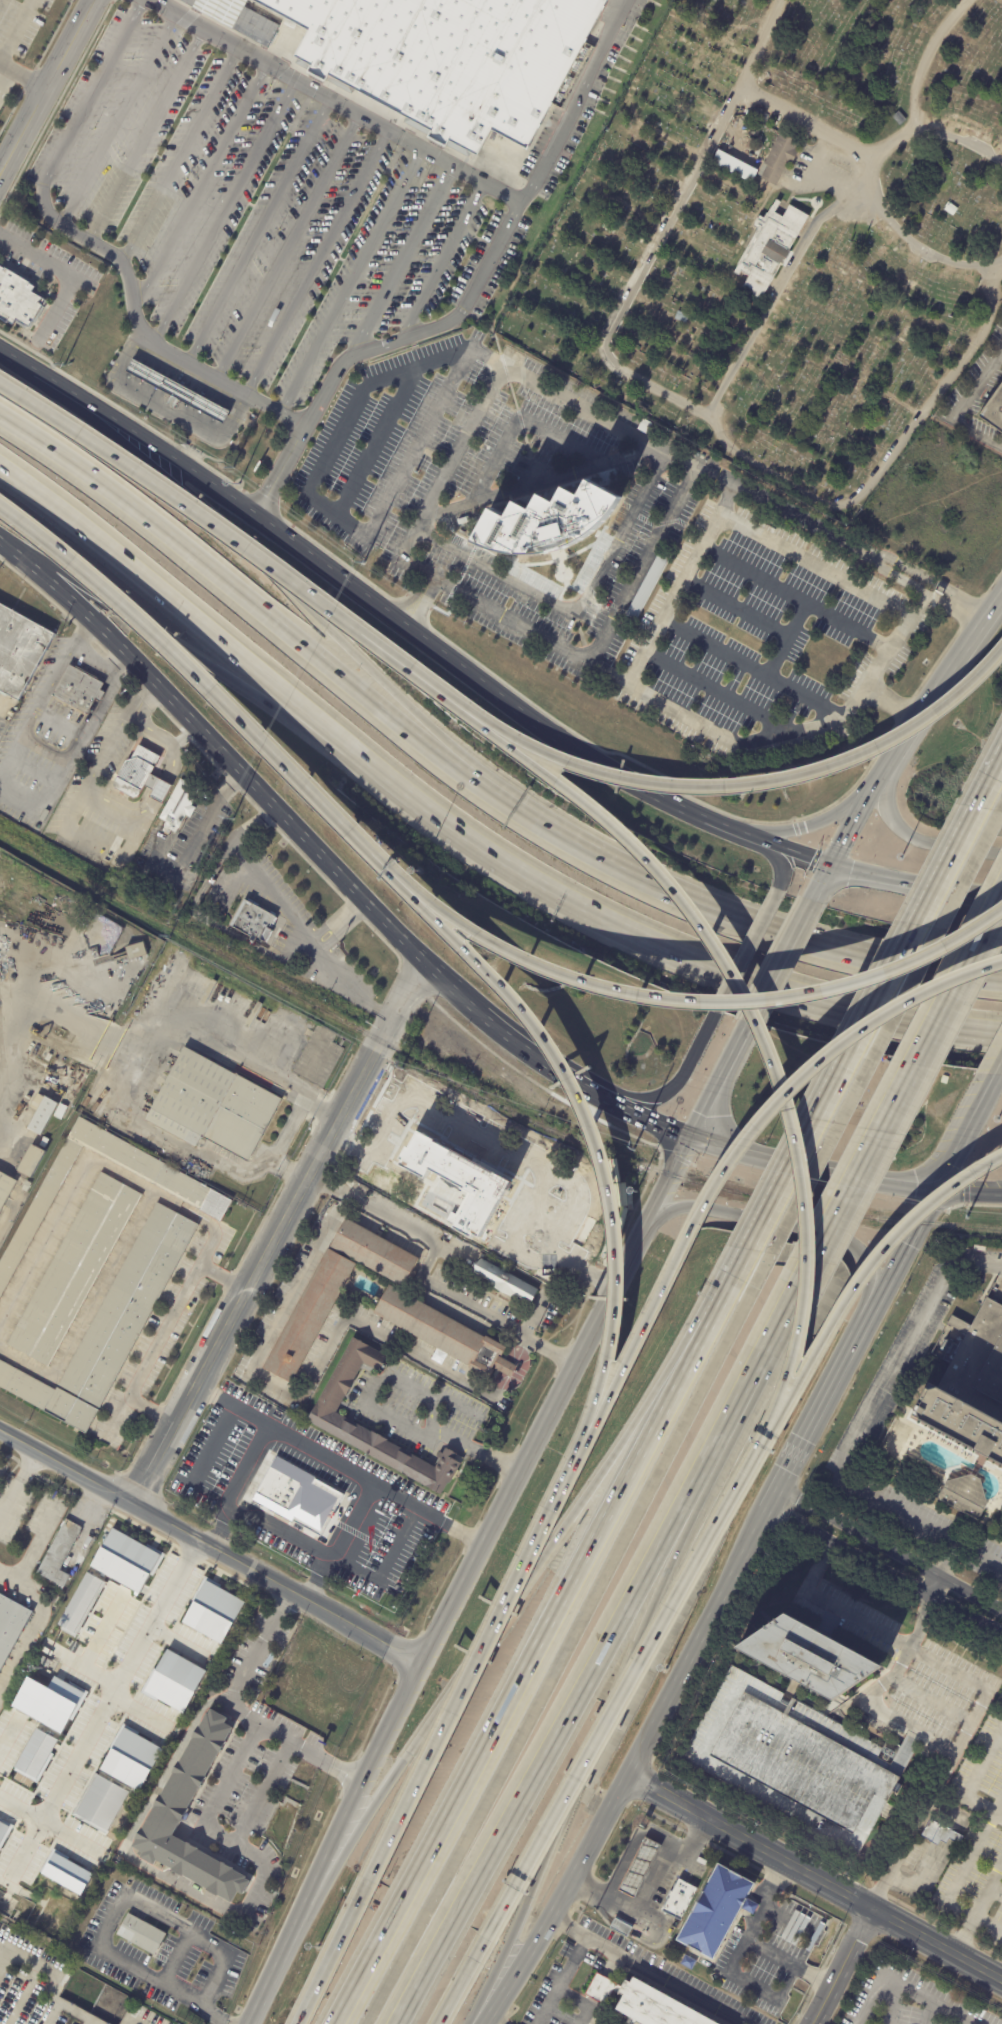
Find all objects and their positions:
parking lot: (24, 25)
building: (688, 27)
road: (16, 31)
building: (817, 49)
road: (934, 55)
building: (426, 56)
road: (22, 75)
building: (780, 81)
building: (678, 82)
road: (46, 84)
road: (572, 98)
road: (118, 118)
road: (921, 119)
road: (813, 123)
road: (146, 133)
road: (180, 152)
building: (779, 159)
building: (735, 166)
road: (201, 184)
parking lot: (269, 207)
road: (226, 208)
road: (515, 208)
road: (260, 227)
road: (289, 243)
road: (93, 244)
building: (769, 248)
road: (920, 250)
road: (317, 260)
road: (441, 260)
road: (400, 261)
park: (806, 265)
road: (69, 274)
road: (351, 278)
building: (555, 282)
building: (18, 299)
building: (121, 339)
road: (610, 354)
building: (112, 362)
road: (32, 375)
road: (529, 380)
gas station: (176, 391)
building: (177, 391)
road: (960, 405)
road: (165, 407)
building: (994, 410)
building: (644, 426)
road: (375, 437)
parking lot: (386, 442)
road: (890, 464)
road: (440, 479)
road: (239, 503)
road: (776, 506)
parking lot: (656, 512)
road: (646, 519)
building: (546, 521)
road: (247, 549)
road: (834, 573)
road: (925, 579)
building: (647, 586)
road: (289, 590)
road: (918, 590)
road: (37, 591)
road: (671, 597)
road: (913, 603)
road: (417, 604)
road: (573, 607)
road: (251, 608)
road: (182, 609)
parking lot: (765, 627)
road: (180, 650)
building: (19, 651)
road: (54, 670)
road: (944, 681)
road: (209, 688)
building: (80, 689)
road: (891, 705)
road: (116, 736)
road: (724, 736)
road: (159, 739)
road: (76, 748)
road: (574, 751)
road: (11, 754)
building: (138, 773)
road: (760, 781)
road: (153, 782)
road: (988, 782)
building: (179, 804)
road: (126, 812)
road: (815, 822)
road: (849, 831)
building: (163, 837)
road: (916, 838)
road: (797, 856)
road: (327, 864)
road: (779, 864)
traffic signals: (830, 869)
road: (915, 888)
road: (740, 919)
road: (290, 920)
building: (253, 922)
road: (210, 923)
road: (339, 924)
road: (658, 946)
building: (135, 951)
road: (742, 951)
road: (780, 966)
road: (700, 999)
building: (113, 1010)
road: (54, 1017)
road: (753, 1020)
road: (859, 1029)
building: (422, 1045)
road: (994, 1066)
road: (672, 1085)
road: (136, 1086)
road: (717, 1086)
railway: (478, 1094)
road: (893, 1096)
building: (211, 1107)
building: (60, 1111)
building: (42, 1114)
road: (585, 1125)
traffic signals: (689, 1140)
road: (743, 1140)
building: (44, 1143)
building: (32, 1162)
road: (812, 1163)
road: (288, 1170)
road: (75, 1173)
building: (455, 1181)
road: (325, 1184)
building: (348, 1184)
building: (26, 1187)
traffic signals: (935, 1187)
road: (664, 1188)
building: (5, 1189)
road: (968, 1191)
road: (928, 1199)
building: (210, 1207)
road: (781, 1222)
road: (276, 1233)
road: (200, 1263)
road: (869, 1266)
building: (73, 1270)
building: (505, 1282)
road: (726, 1284)
road: (289, 1285)
building: (364, 1304)
road: (87, 1308)
road: (532, 1319)
building: (111, 1326)
road: (513, 1349)
road: (151, 1351)
road: (578, 1356)
road: (503, 1368)
road: (518, 1372)
road: (497, 1387)
road: (743, 1389)
building: (961, 1390)
road: (150, 1409)
building: (266, 1412)
road: (379, 1412)
road: (468, 1412)
road: (816, 1415)
building: (327, 1417)
road: (859, 1432)
road: (206, 1454)
road: (14, 1480)
building: (963, 1496)
building: (298, 1497)
road: (206, 1546)
road: (889, 1549)
road: (31, 1550)
building: (59, 1553)
building: (126, 1560)
road: (816, 1567)
road: (882, 1569)
road: (935, 1584)
building: (57, 1602)
building: (79, 1603)
building: (213, 1611)
road: (857, 1620)
building: (10, 1625)
road: (491, 1625)
road: (90, 1646)
road: (480, 1650)
building: (811, 1658)
building: (44, 1662)
road: (245, 1666)
building: (48, 1672)
road: (524, 1673)
building: (175, 1681)
road: (625, 1685)
building: (212, 1691)
road: (980, 1700)
building: (48, 1702)
road: (393, 1703)
road: (101, 1706)
road: (137, 1712)
road: (901, 1716)
road: (8, 1734)
road: (546, 1748)
road: (590, 1751)
building: (36, 1755)
building: (131, 1758)
building: (802, 1764)
road: (627, 1772)
building: (186, 1781)
road: (974, 1781)
road: (223, 1792)
road: (997, 1800)
building: (101, 1804)
road: (917, 1815)
road: (49, 1824)
building: (3, 1830)
building: (941, 1834)
road: (748, 1840)
road: (629, 1852)
road: (1001, 1857)
road: (141, 1865)
building: (640, 1869)
building: (66, 1873)
road: (647, 1881)
road: (994, 1892)
road: (125, 1900)
building: (680, 1900)
road: (977, 1905)
building: (717, 1911)
road: (351, 1914)
road: (986, 1927)
building: (621, 1928)
building: (141, 1933)
road: (935, 1945)
road: (5, 1949)
road: (172, 1960)
road: (572, 1962)
building: (689, 1963)
road: (788, 1963)
road: (840, 1967)
road: (57, 1977)
road: (266, 1980)
road: (664, 1981)
road: (759, 1985)
road: (315, 1986)
building: (600, 1988)
road: (911, 1990)
road: (454, 1991)
road: (19, 1994)
road: (581, 2003)
building: (663, 2006)
road: (49, 2014)
road: (213, 2017)
road: (134, 2019)
road: (89, 2023)

